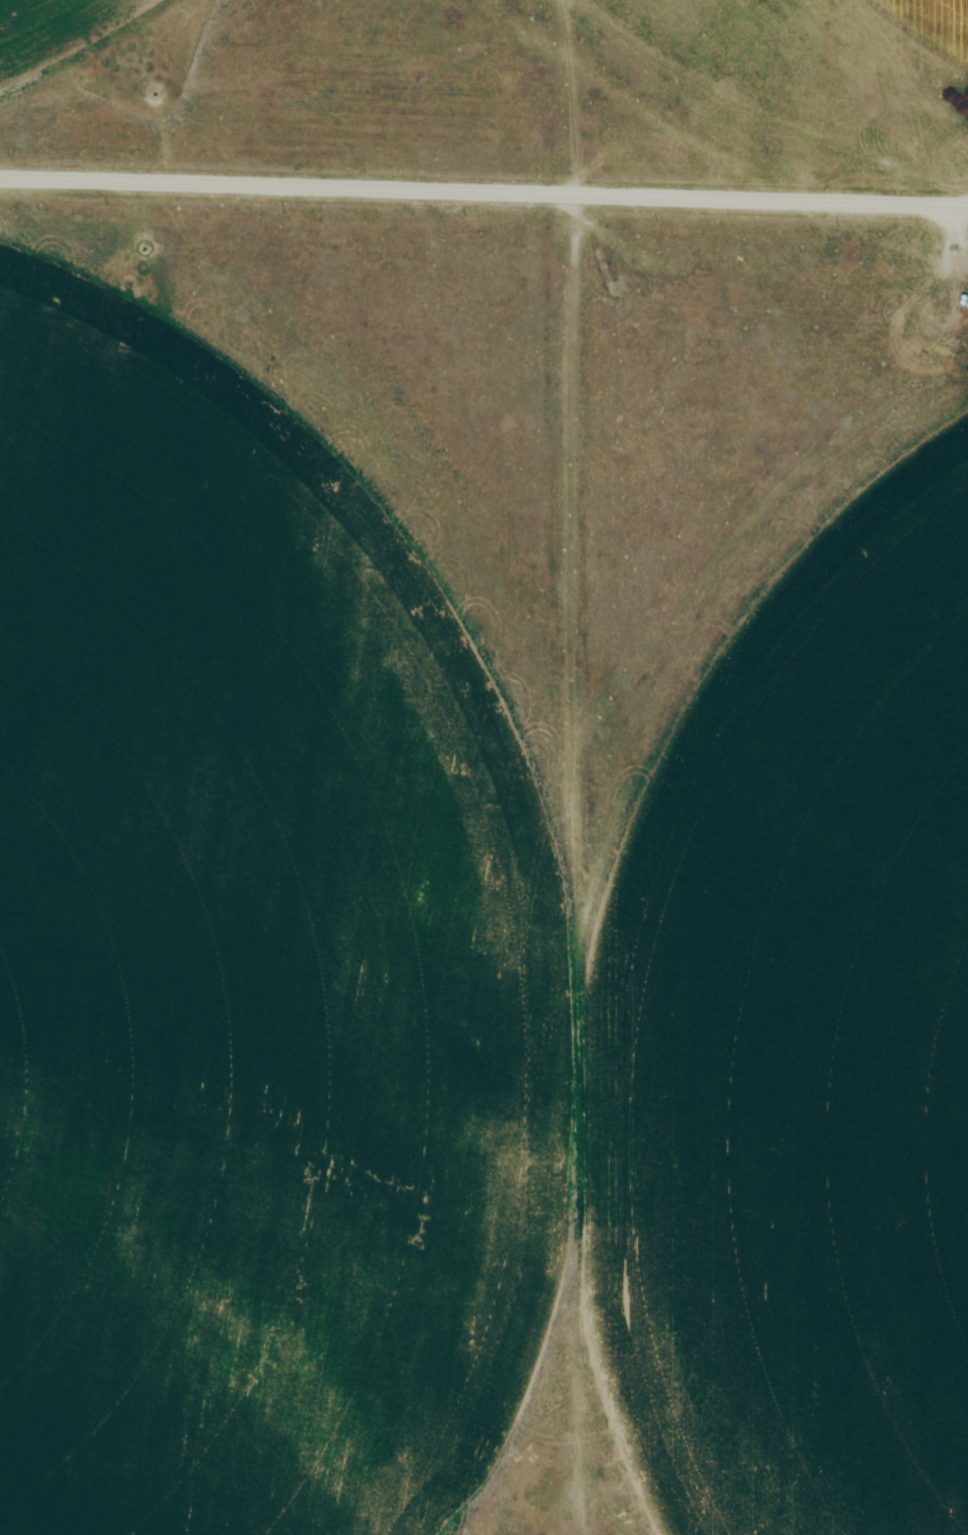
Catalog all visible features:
crop: (932, 23)
crop: (53, 29)
road: (483, 197)
crop: (475, 868)

